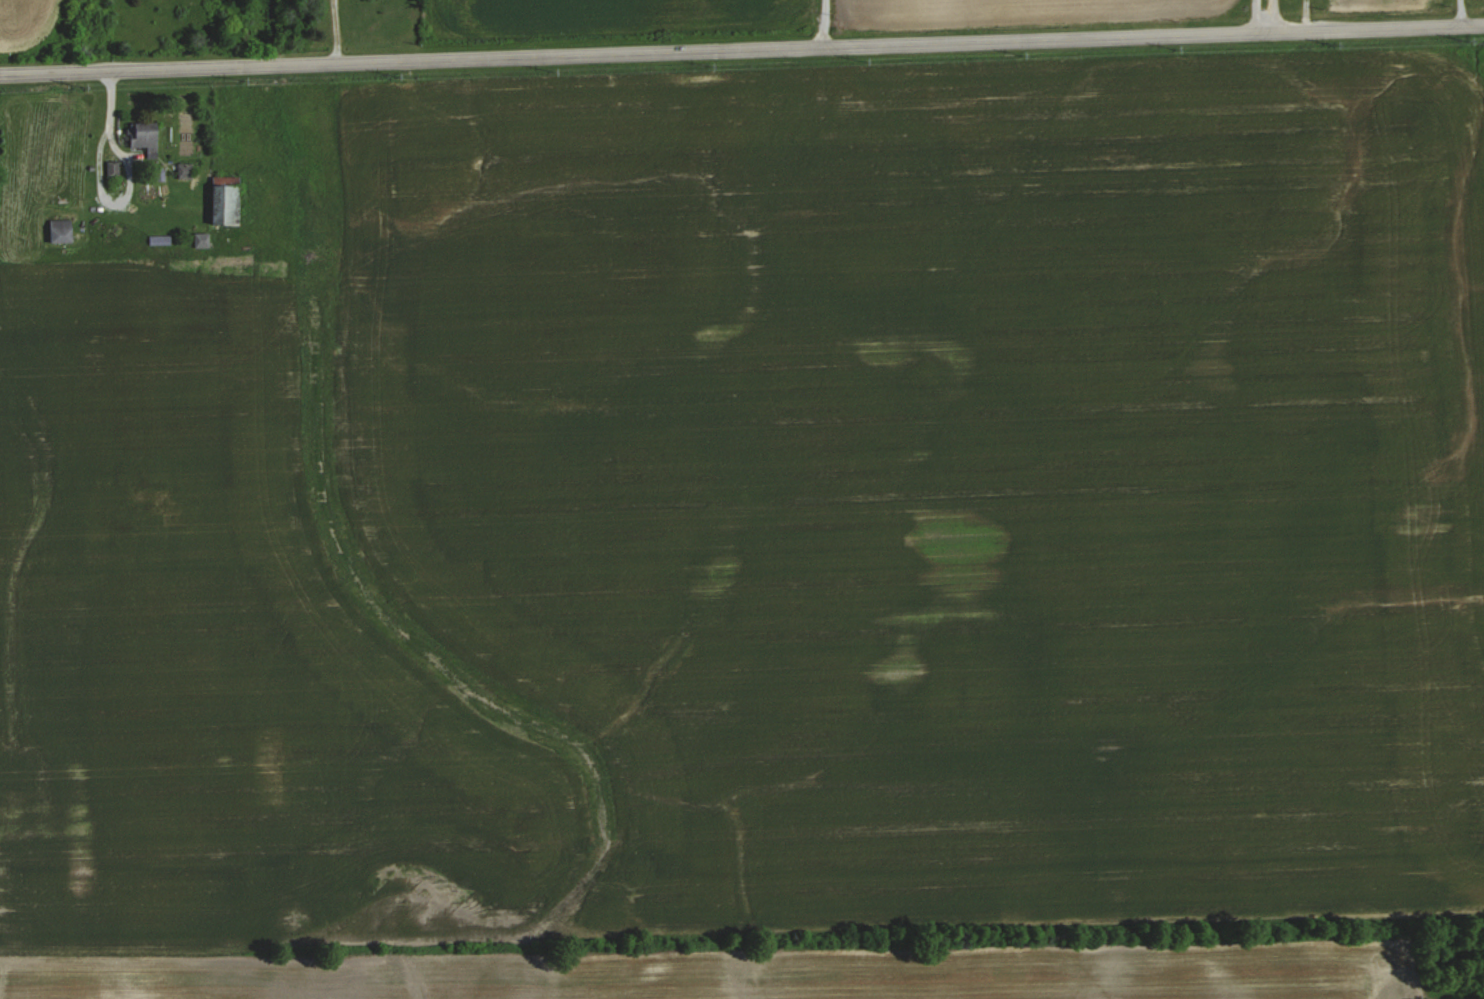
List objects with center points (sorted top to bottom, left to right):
road: (1256, 14)
road: (823, 22)
road: (742, 47)
building: (146, 136)
building: (186, 170)
road: (93, 184)
building: (227, 200)
building: (62, 229)
building: (161, 239)
building: (203, 239)

